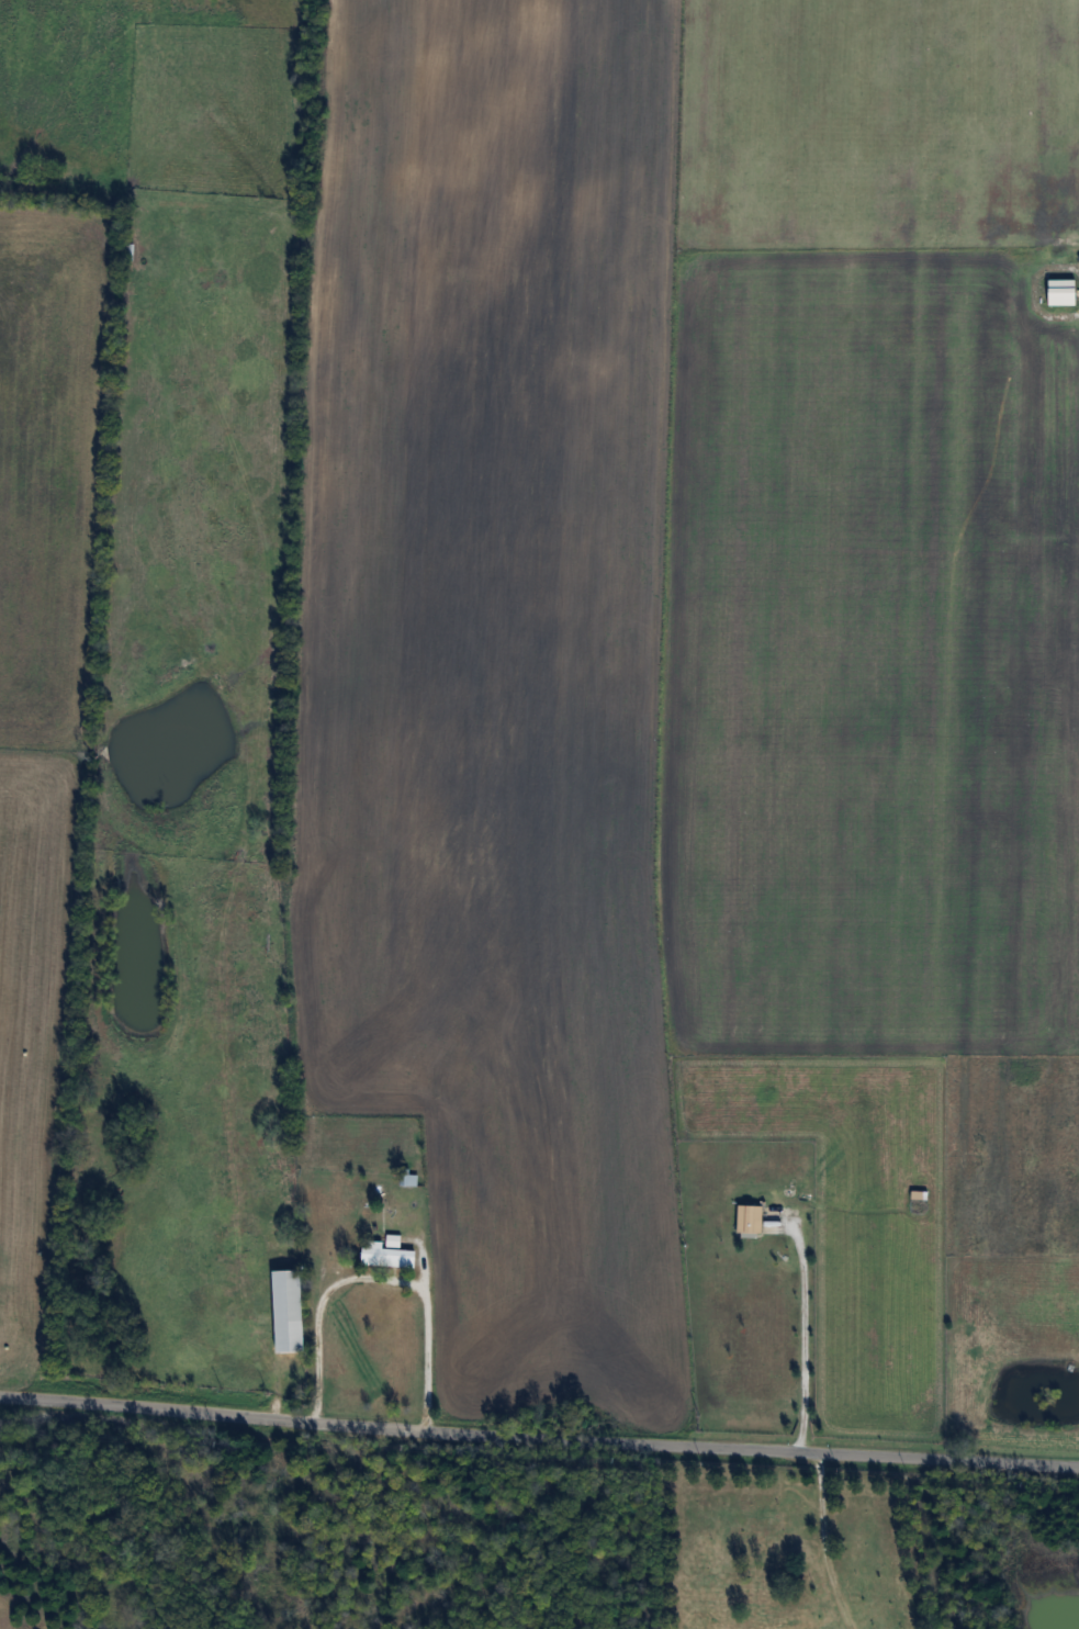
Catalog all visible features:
building: (1056, 285)
road: (1026, 287)
building: (742, 1214)
building: (383, 1250)
road: (379, 1279)
building: (284, 1305)
road: (799, 1318)
road: (539, 1433)
road: (819, 1540)

